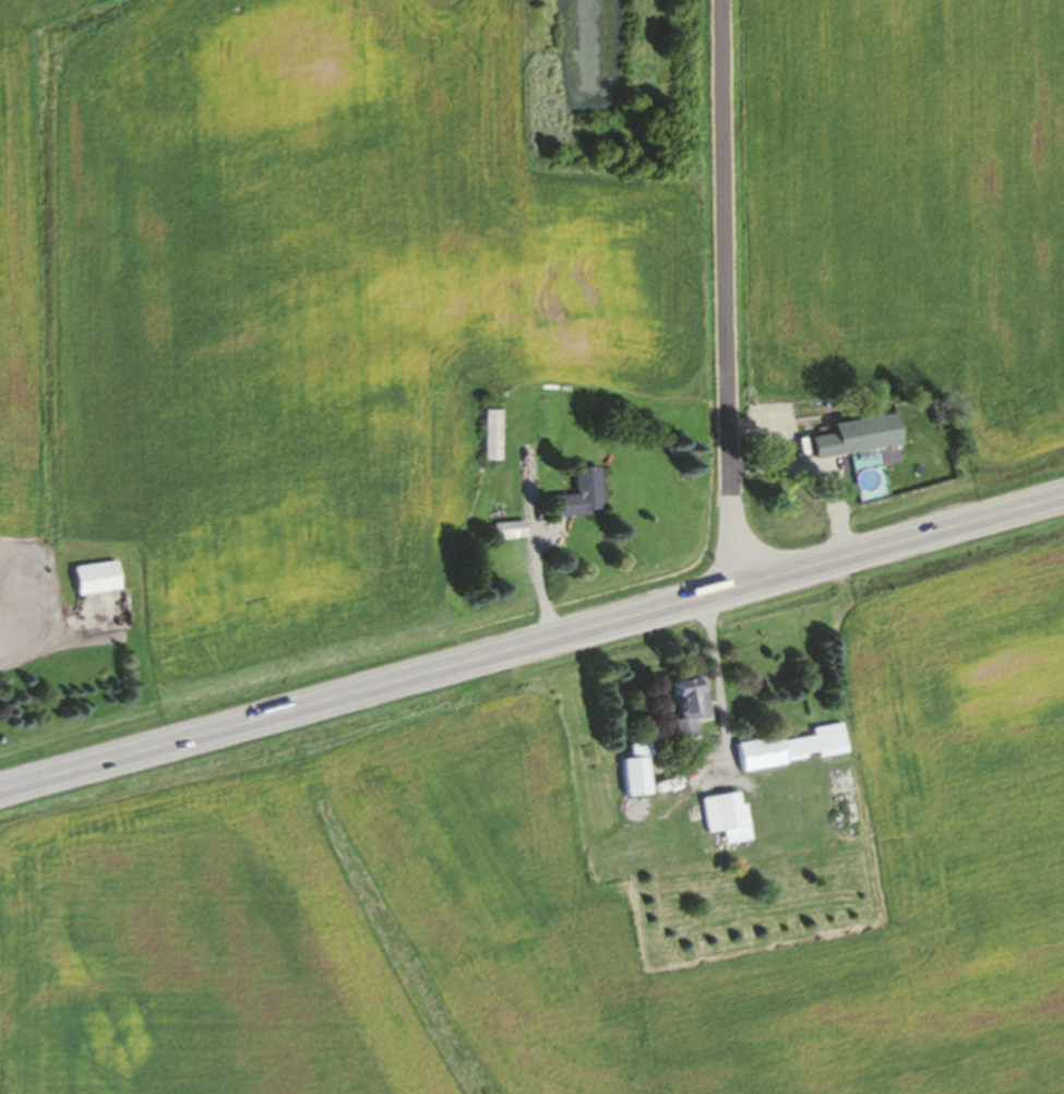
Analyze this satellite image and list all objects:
road: (727, 293)
building: (487, 438)
building: (851, 439)
building: (575, 499)
building: (95, 582)
road: (35, 599)
building: (23, 616)
road: (531, 643)
building: (684, 709)
building: (789, 751)
building: (635, 775)
building: (724, 820)

